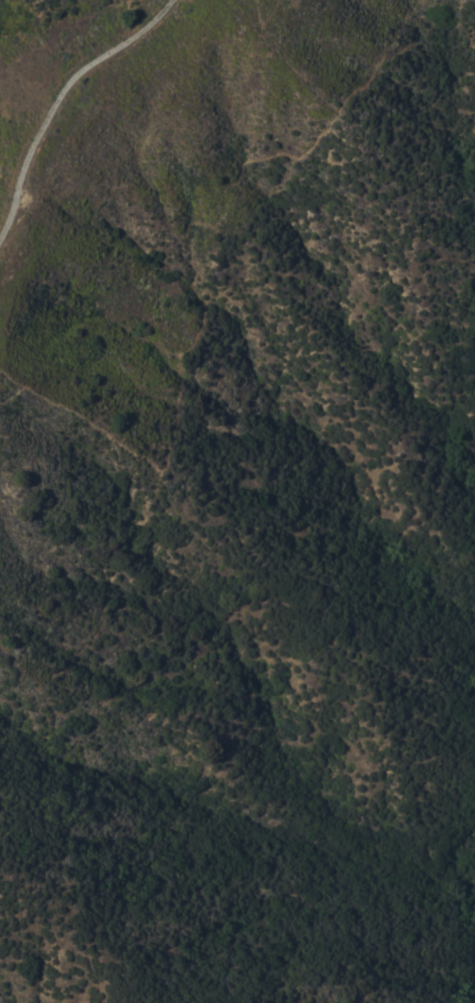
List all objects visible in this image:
road: (57, 100)

